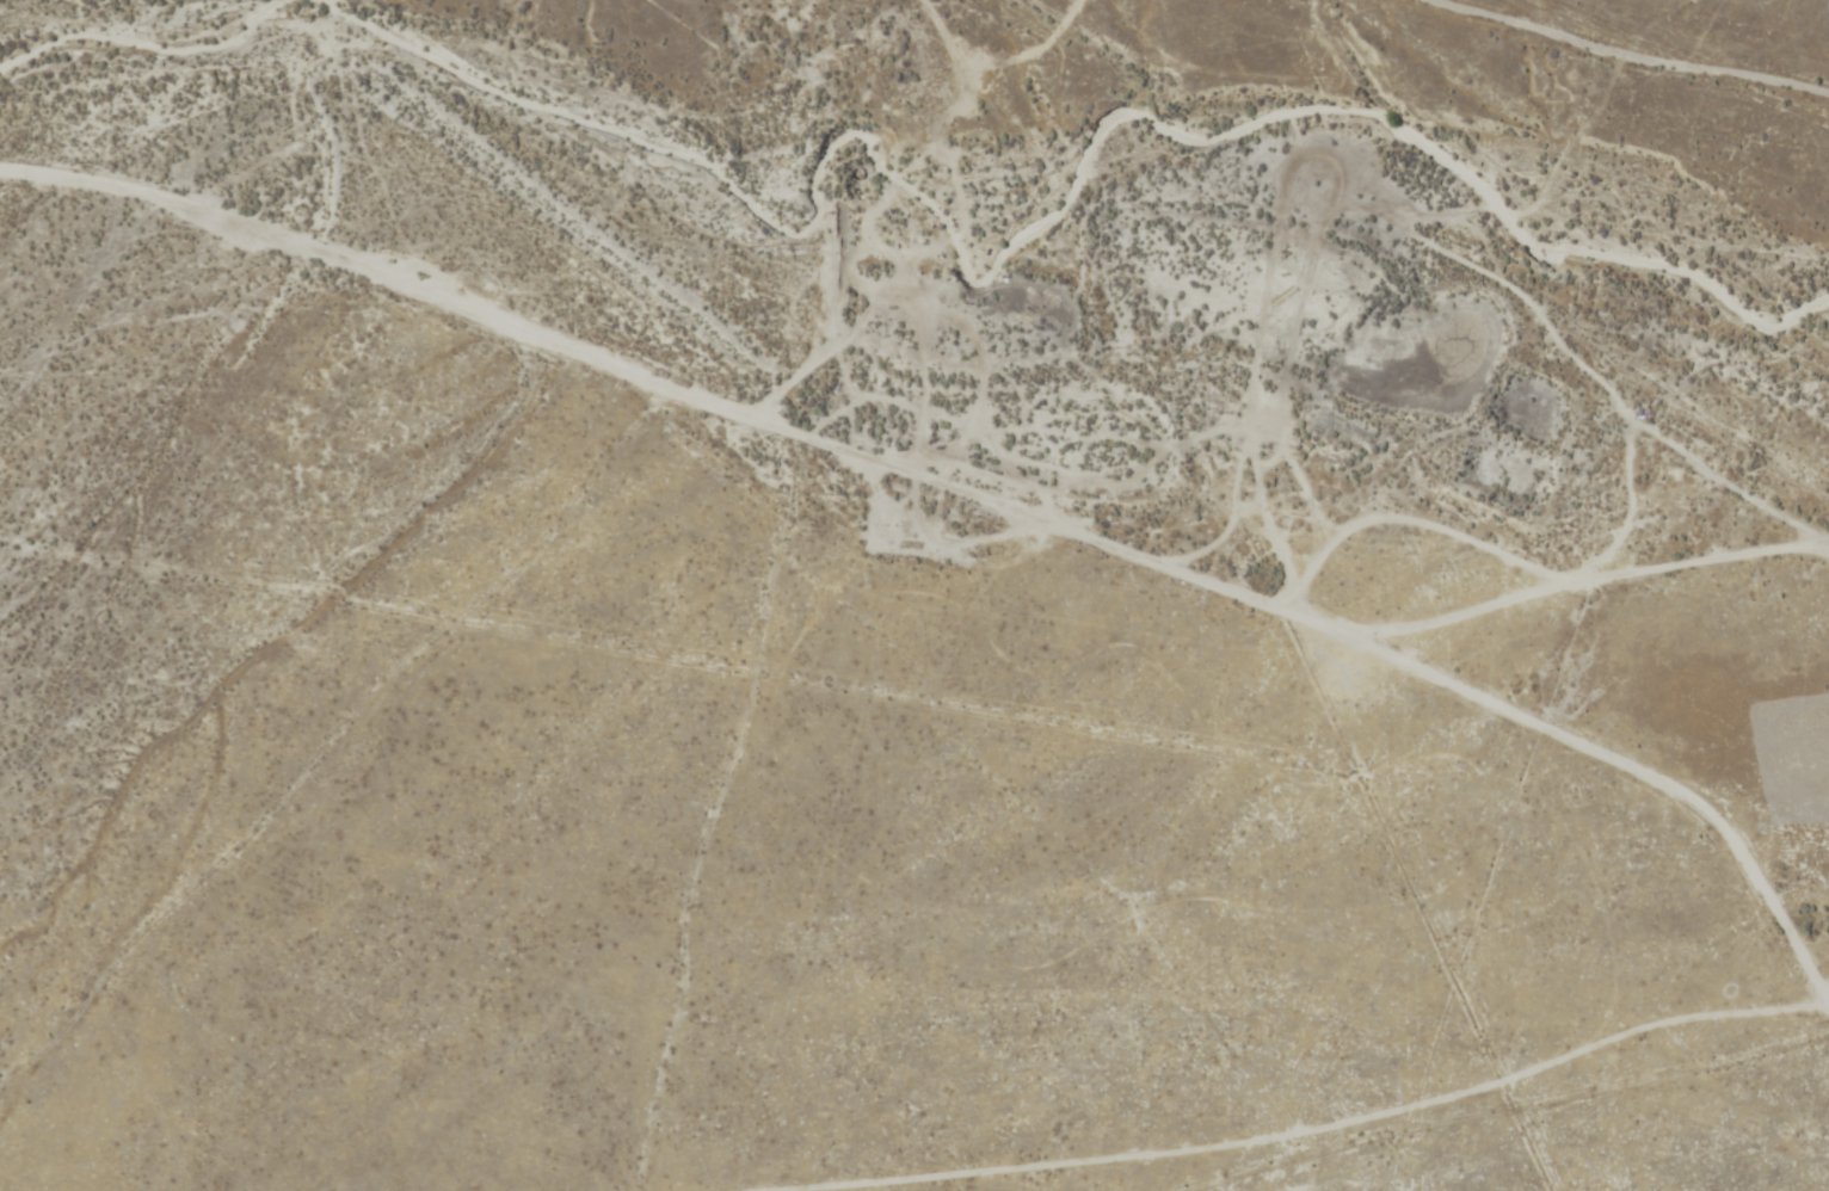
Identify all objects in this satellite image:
road: (1611, 605)

